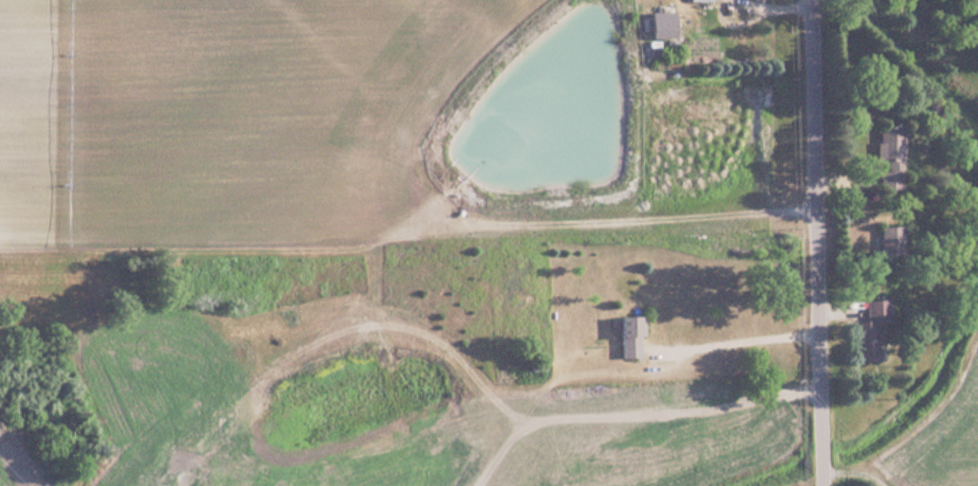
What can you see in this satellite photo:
building: (887, 158)
building: (889, 242)
road: (821, 243)
building: (868, 330)
building: (625, 336)
road: (742, 340)
road: (866, 462)

